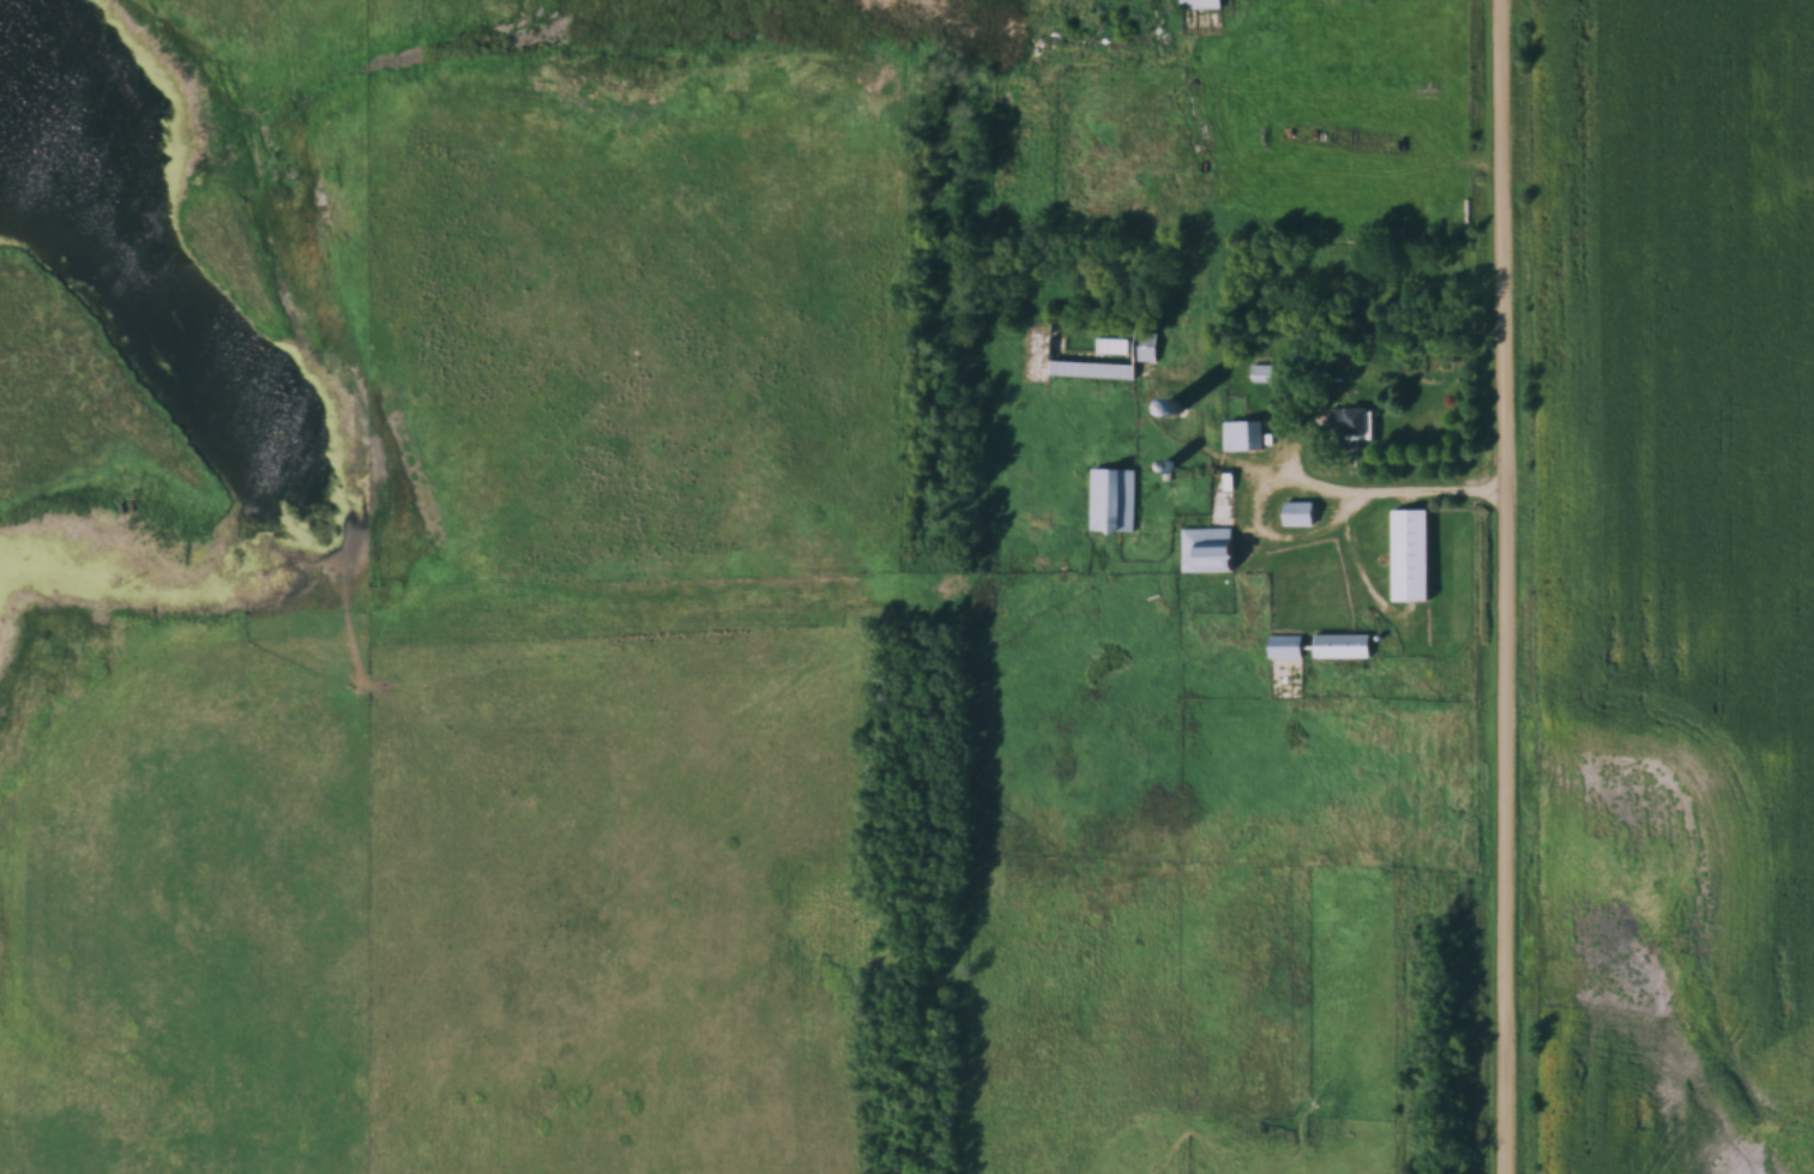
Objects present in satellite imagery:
building: (1195, 11)
building: (1261, 374)
building: (1175, 409)
building: (1352, 425)
building: (1243, 437)
road: (1307, 480)
building: (1113, 500)
building: (1298, 513)
building: (1207, 549)
building: (1411, 554)
road: (1512, 586)
building: (1285, 645)
building: (1342, 645)

